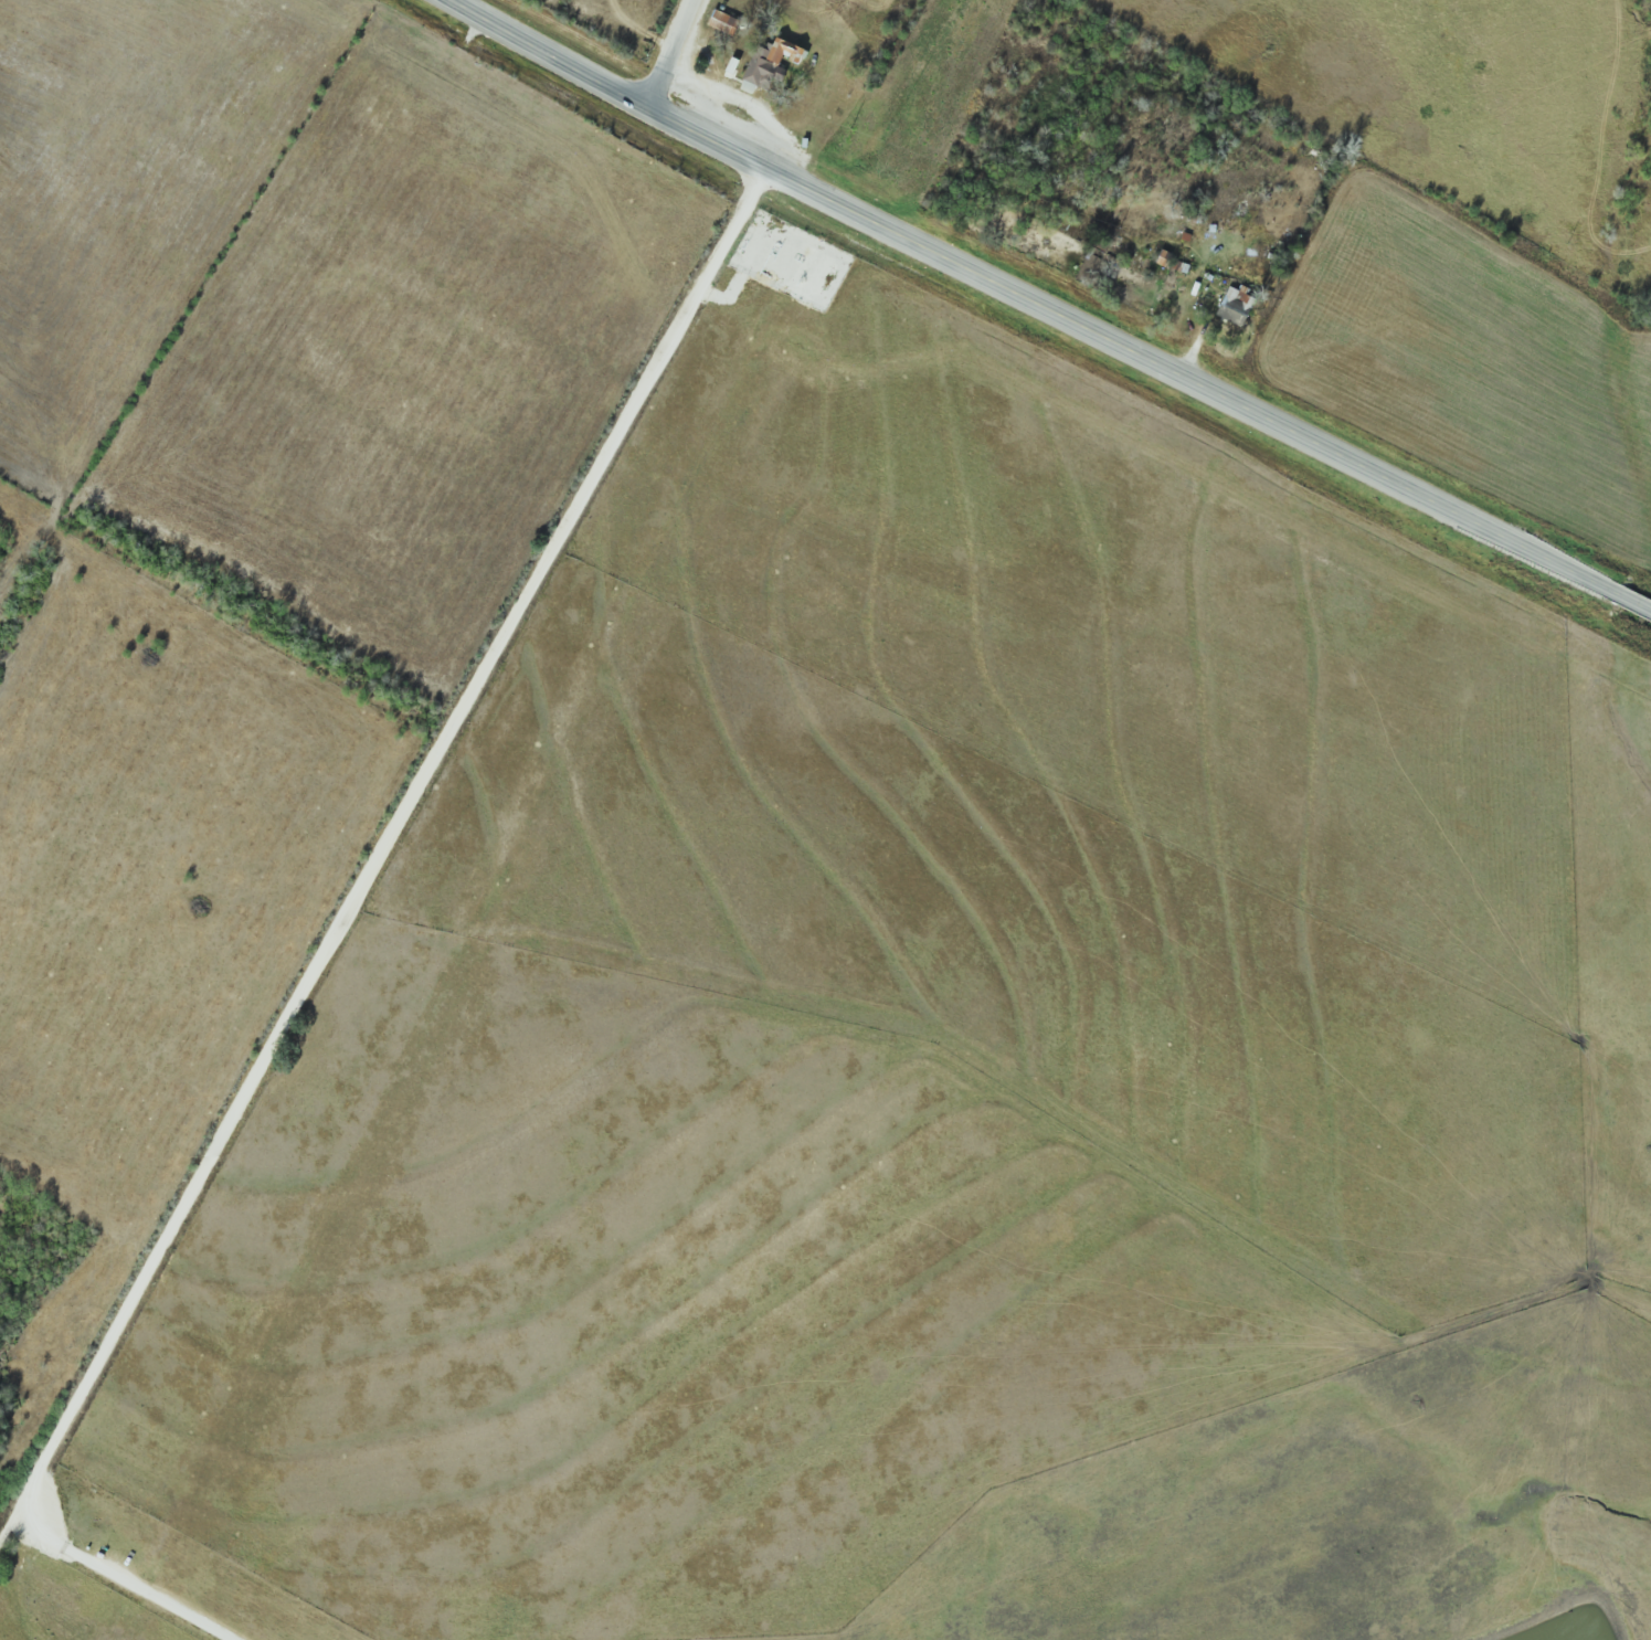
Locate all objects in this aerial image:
building: (726, 22)
road: (550, 53)
road: (671, 53)
building: (773, 62)
building: (733, 65)
building: (1166, 258)
building: (1237, 306)
road: (1146, 360)
road: (378, 861)
road: (127, 1578)

